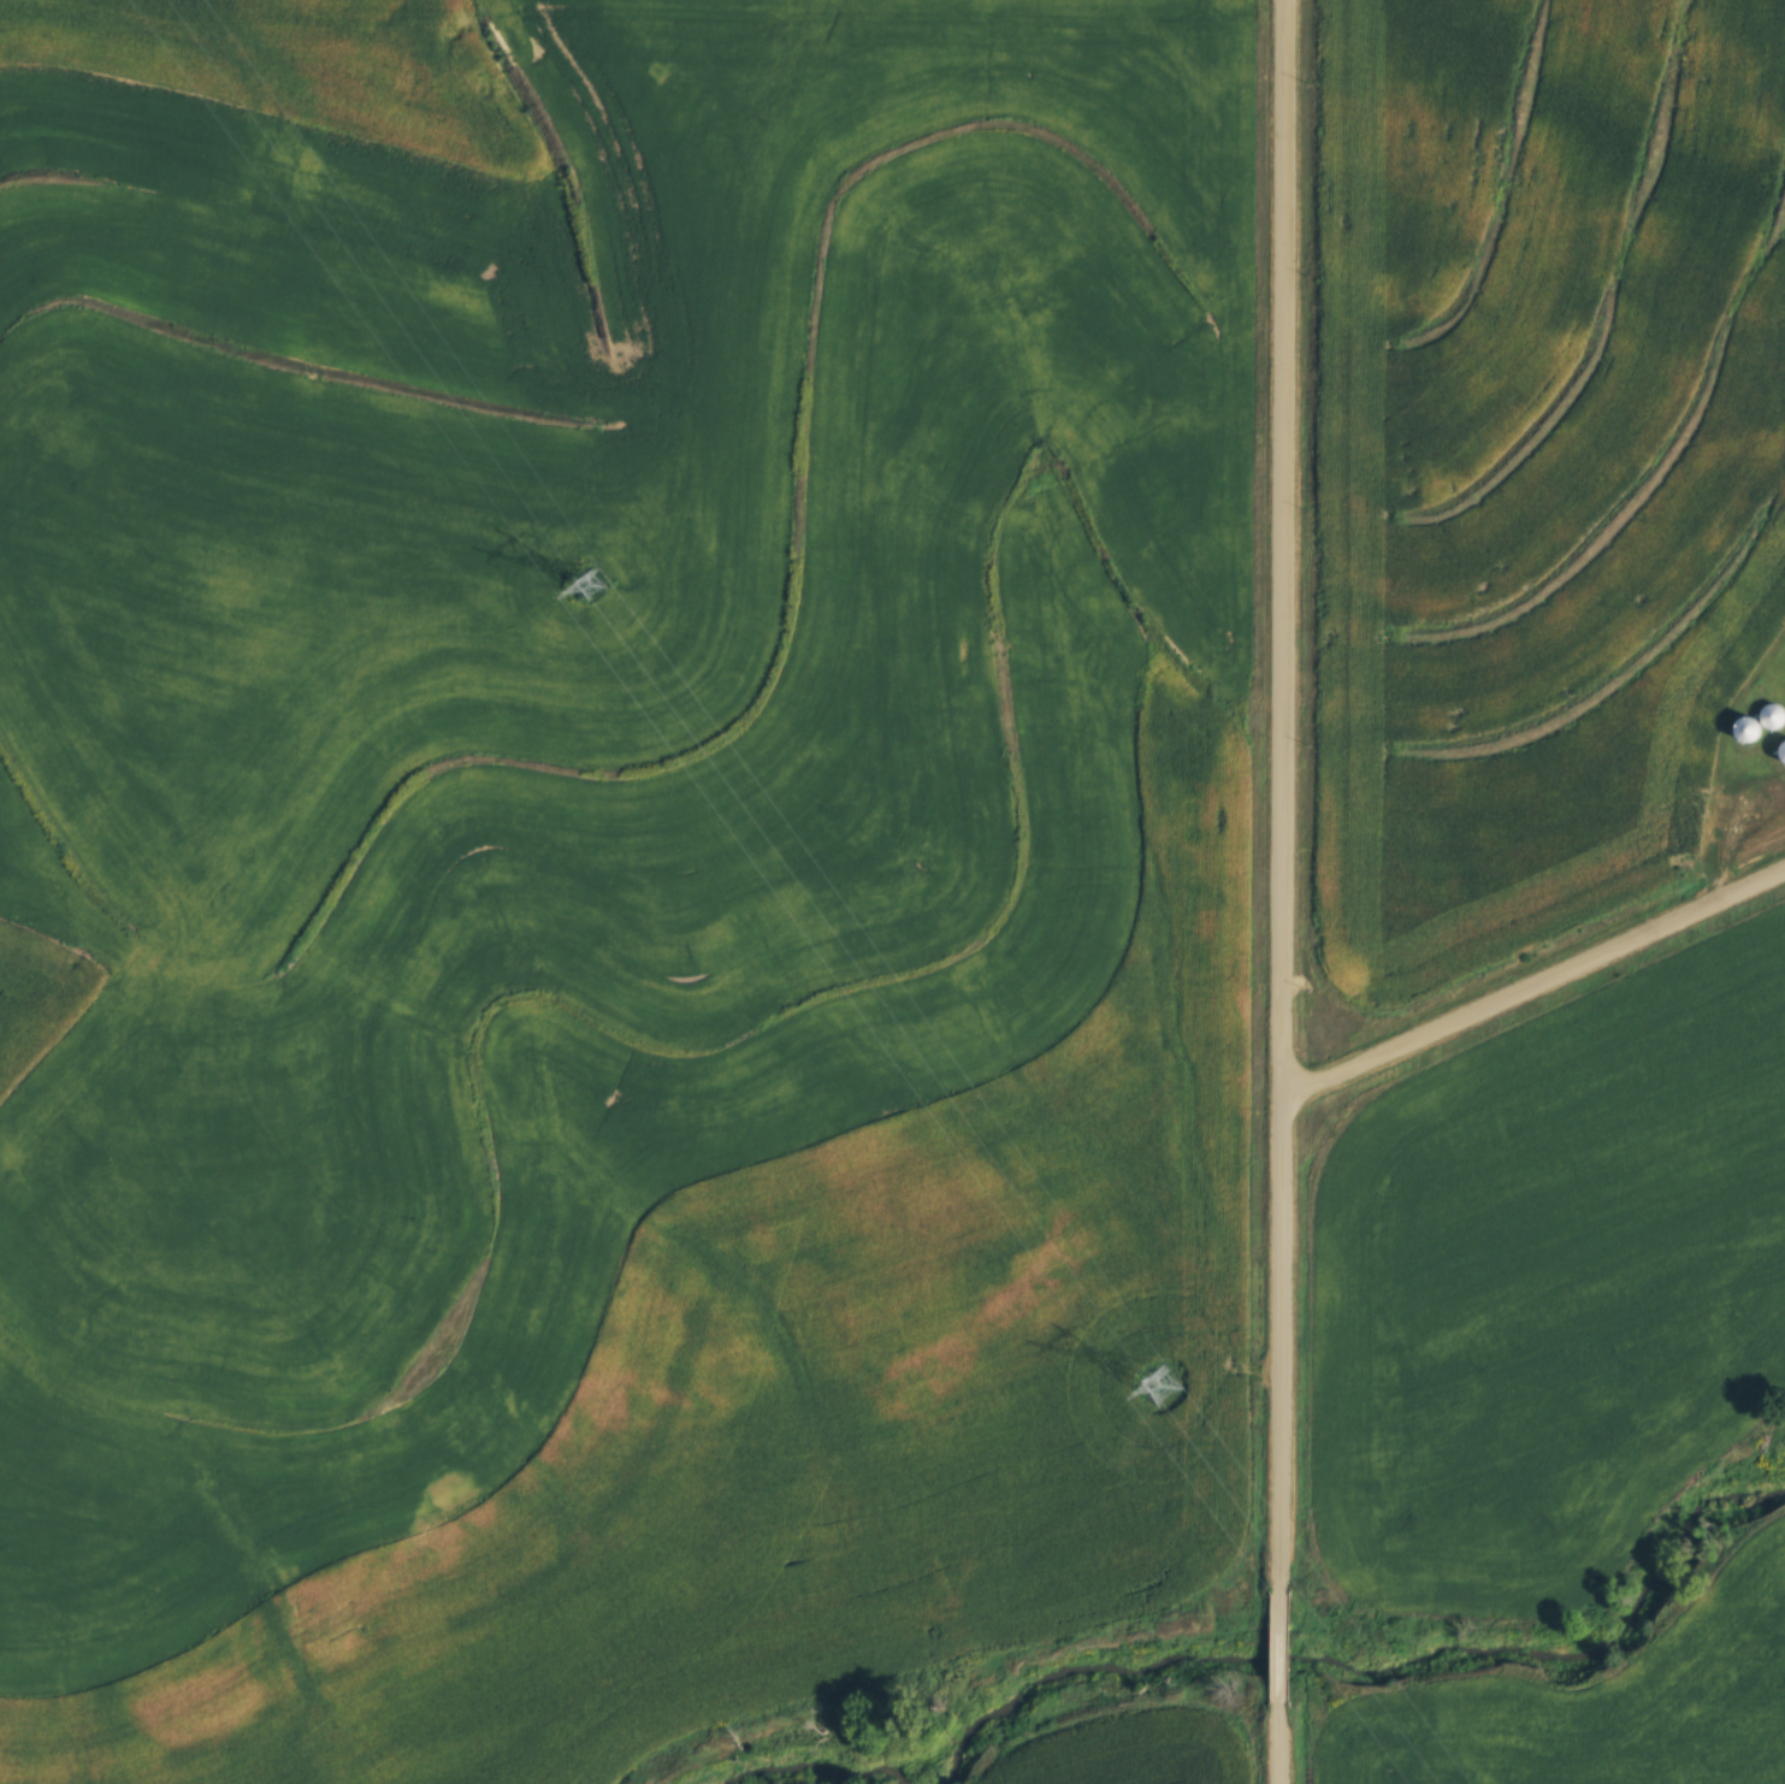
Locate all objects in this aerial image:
power tower: (598, 580)
building: (1769, 713)
building: (1745, 725)
building: (1781, 749)
road: (1277, 793)
road: (1532, 983)
power tower: (1169, 1387)
road: (1275, 1644)
road: (1273, 1743)

